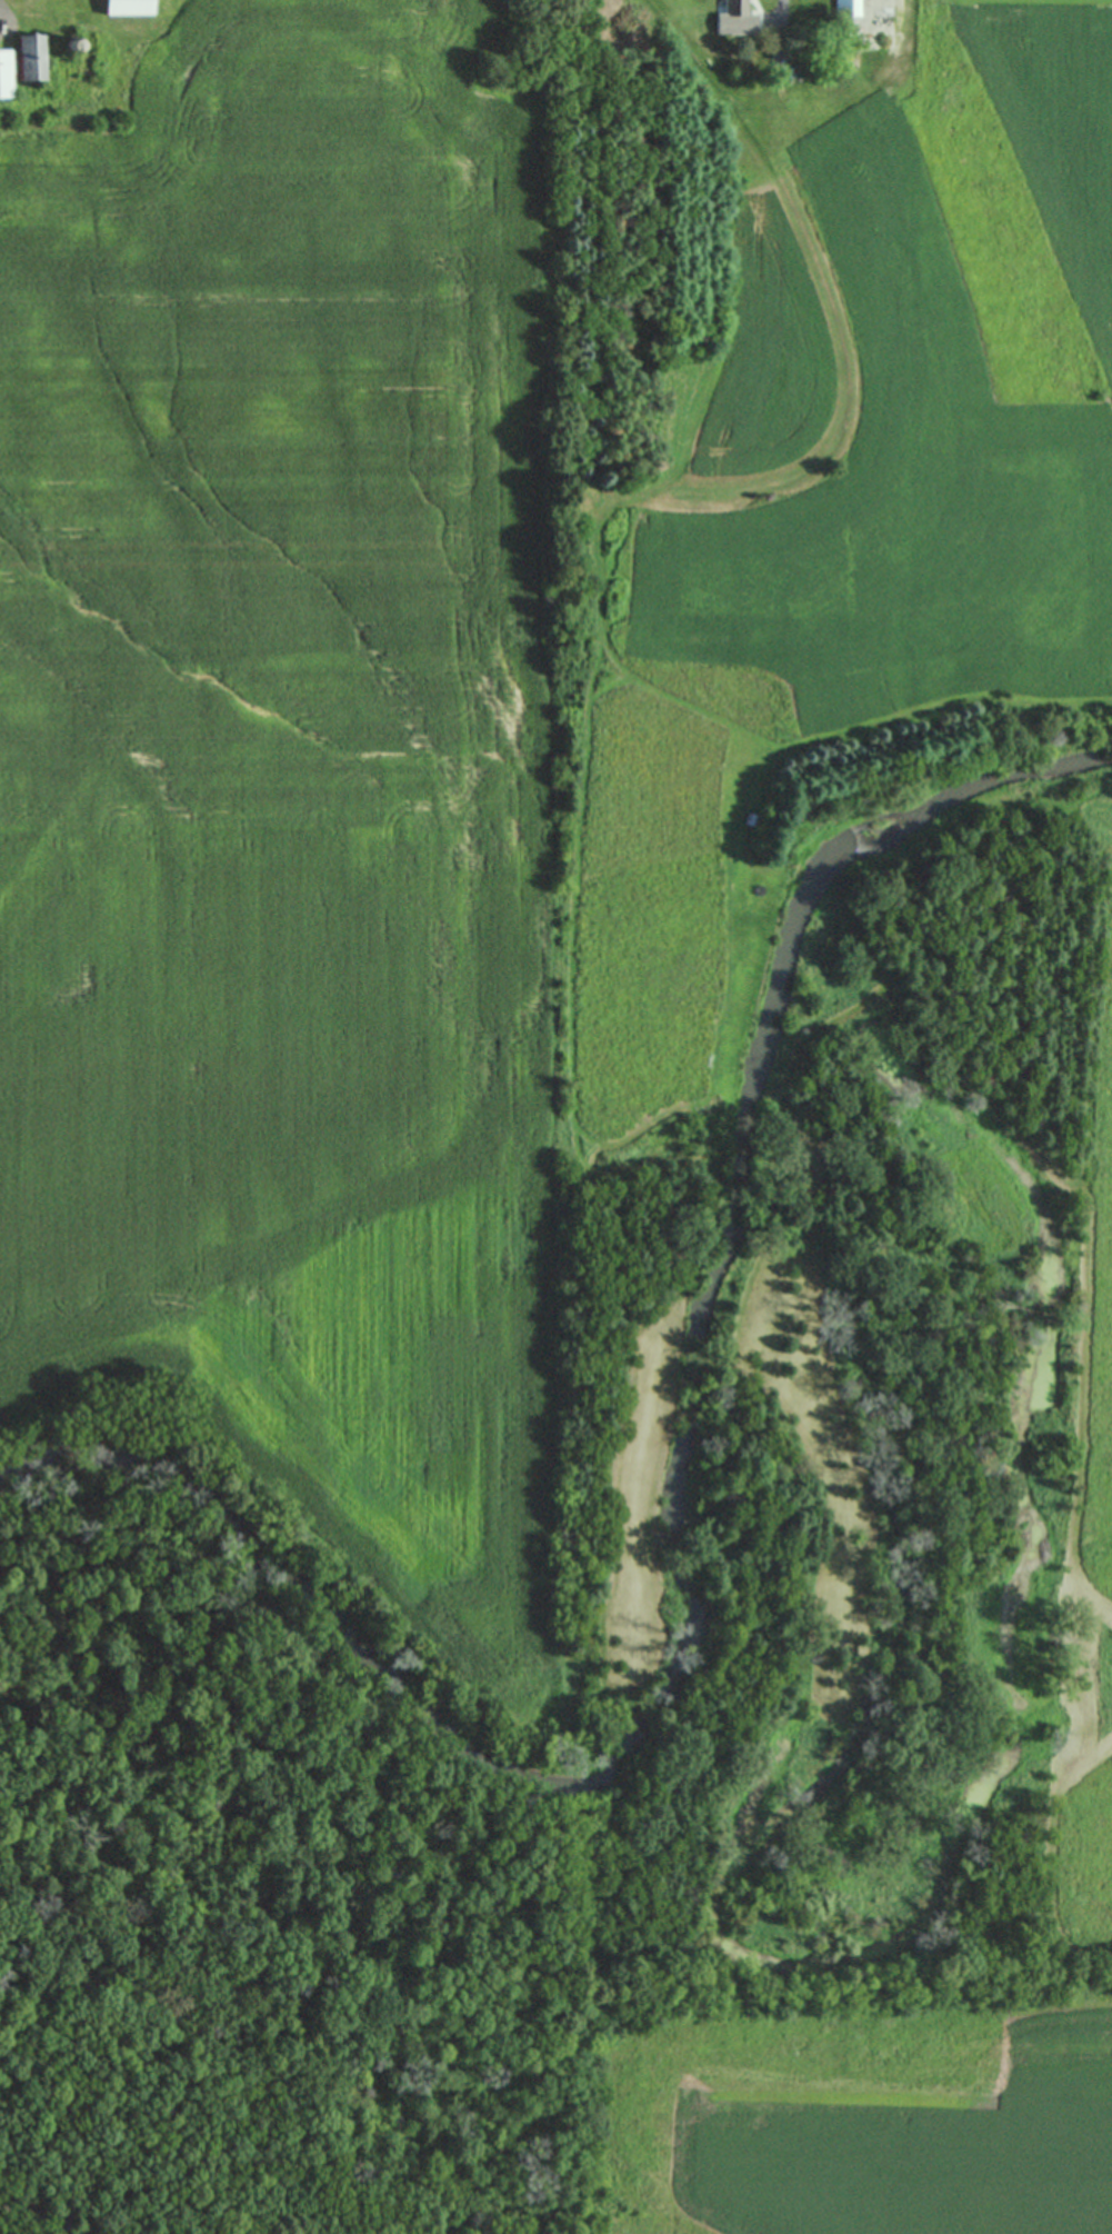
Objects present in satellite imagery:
building: (132, 7)
building: (740, 7)
building: (850, 8)
building: (37, 56)
building: (8, 72)
river: (670, 1532)
river: (44, 2213)

